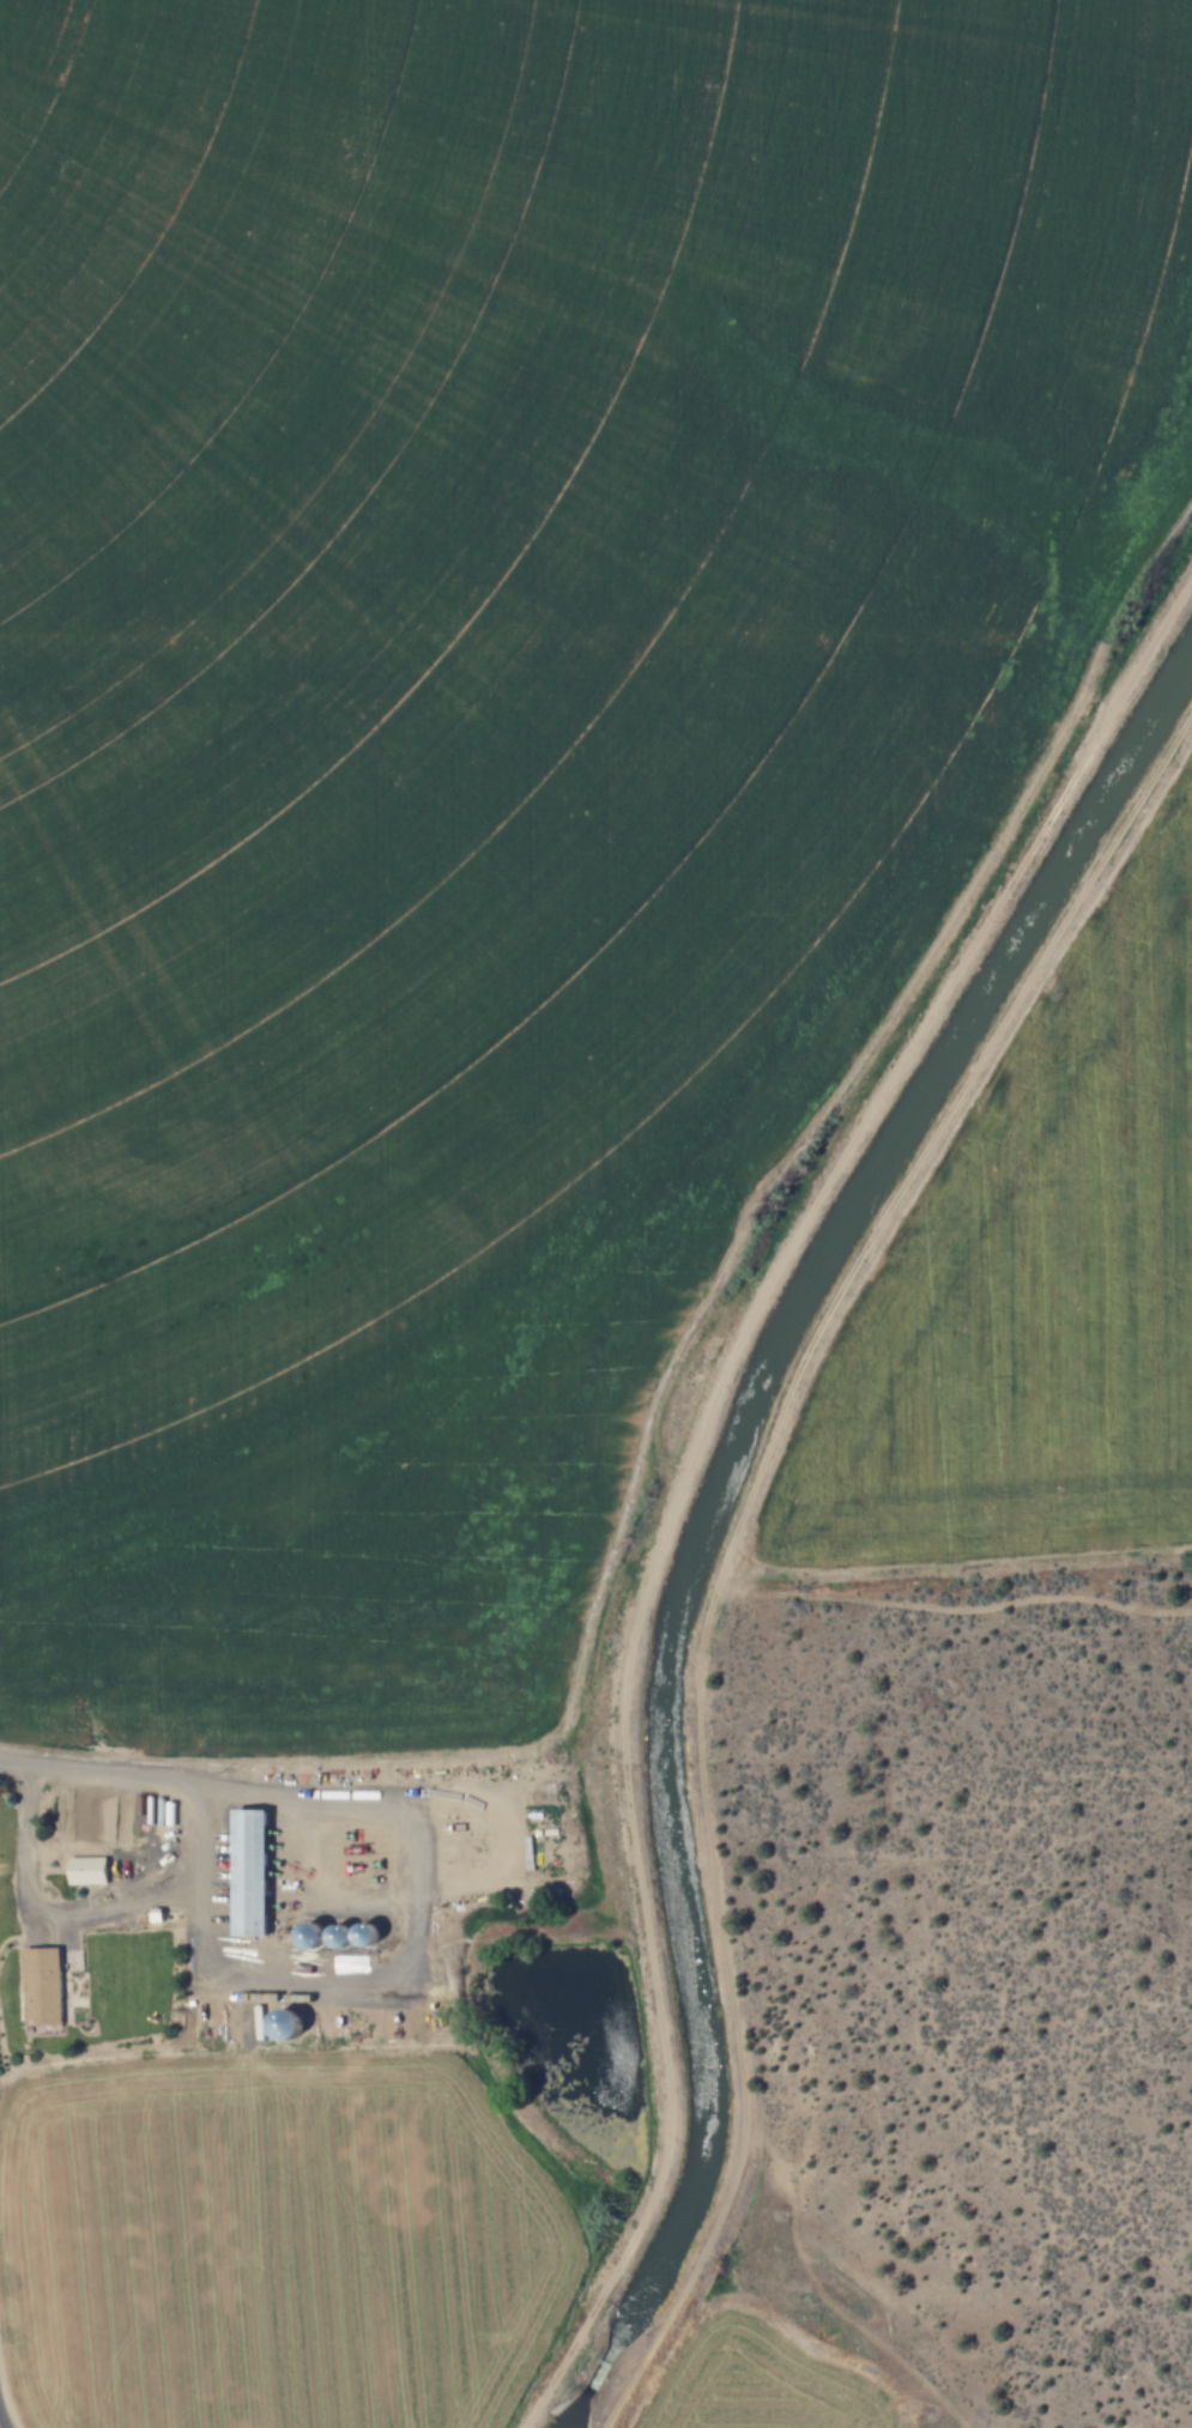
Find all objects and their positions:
building: (84, 1871)
building: (244, 1871)
building: (37, 1985)
building: (279, 2022)
crop: (766, 2385)

